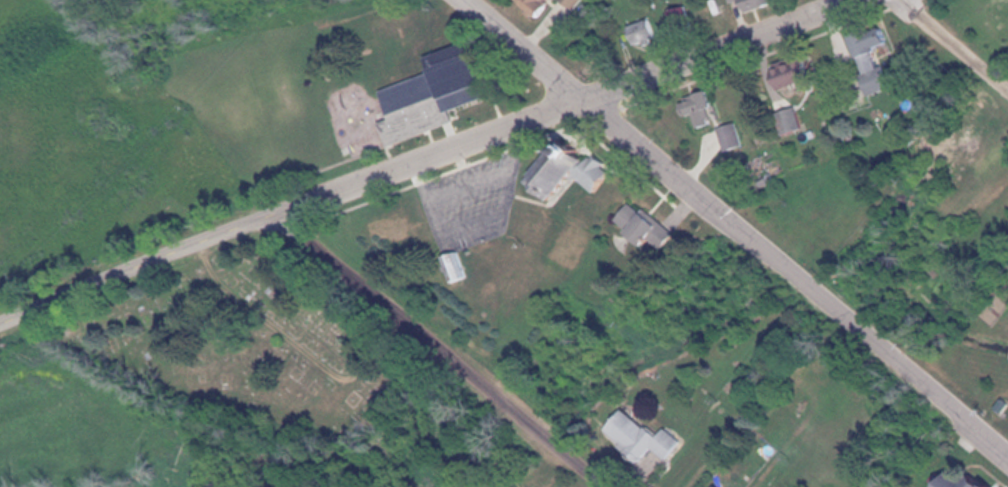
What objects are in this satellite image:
building: (736, 1)
building: (581, 2)
building: (761, 4)
building: (545, 5)
building: (687, 19)
building: (650, 32)
road: (953, 46)
building: (879, 57)
building: (802, 70)
building: (445, 92)
building: (708, 109)
building: (737, 136)
road: (419, 162)
building: (575, 170)
building: (655, 226)
road: (737, 228)
road: (446, 349)
building: (653, 437)
building: (952, 481)
building: (709, 486)

